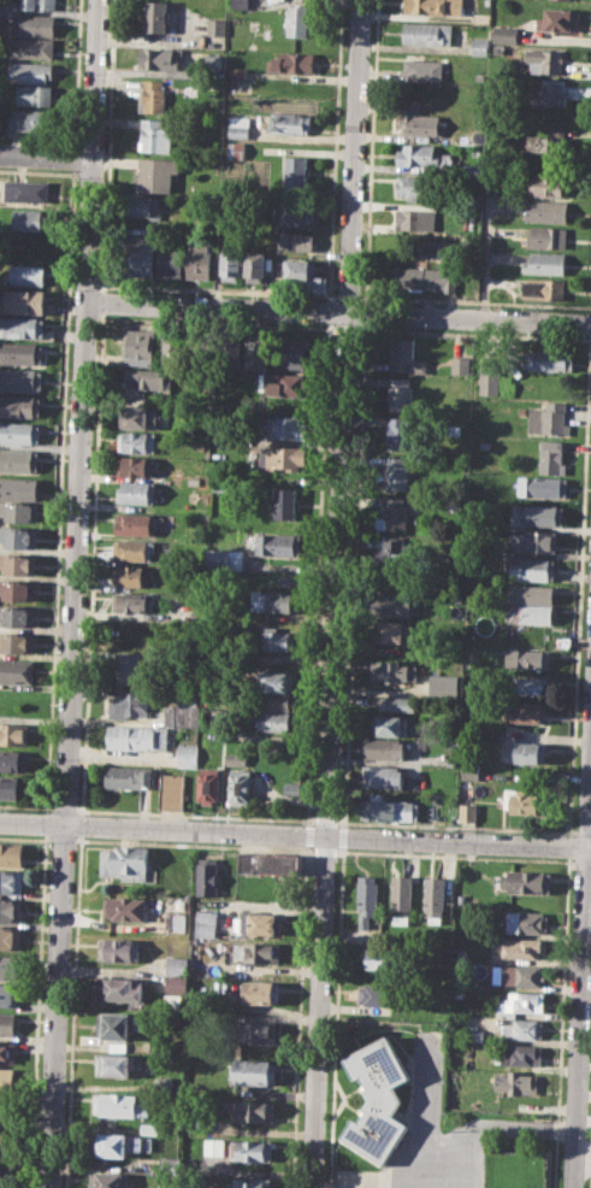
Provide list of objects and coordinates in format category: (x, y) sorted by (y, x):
building: (241, 2)
building: (39, 4)
building: (435, 6)
building: (156, 14)
building: (559, 18)
building: (300, 20)
building: (37, 23)
building: (217, 25)
building: (427, 31)
building: (504, 34)
building: (479, 46)
building: (32, 48)
building: (159, 57)
building: (544, 60)
building: (292, 61)
building: (424, 67)
building: (31, 71)
building: (549, 94)
building: (36, 95)
building: (152, 95)
building: (418, 119)
building: (32, 120)
building: (291, 122)
building: (238, 129)
building: (155, 134)
building: (550, 141)
road: (337, 149)
road: (371, 151)
building: (236, 152)
road: (46, 155)
building: (422, 155)
building: (473, 169)
building: (297, 171)
building: (156, 174)
building: (551, 183)
building: (418, 184)
building: (26, 190)
building: (143, 206)
building: (549, 210)
building: (299, 212)
building: (28, 219)
building: (416, 219)
building: (549, 236)
building: (296, 240)
road: (485, 246)
building: (144, 257)
road: (105, 259)
building: (199, 260)
building: (171, 263)
building: (546, 263)
building: (230, 265)
building: (255, 266)
building: (28, 275)
building: (303, 275)
building: (427, 277)
building: (545, 288)
road: (348, 296)
building: (22, 300)
road: (474, 301)
road: (590, 310)
road: (330, 311)
road: (338, 311)
road: (365, 312)
road: (590, 322)
building: (22, 325)
road: (344, 327)
road: (473, 333)
building: (138, 346)
building: (175, 349)
building: (202, 351)
building: (294, 351)
building: (20, 352)
building: (229, 352)
building: (255, 353)
building: (403, 355)
building: (549, 359)
building: (460, 364)
building: (489, 374)
building: (20, 378)
building: (142, 380)
building: (283, 382)
building: (400, 394)
building: (20, 405)
building: (137, 417)
road: (342, 417)
building: (548, 418)
building: (289, 425)
building: (19, 433)
building: (398, 433)
building: (136, 442)
road: (95, 448)
road: (61, 454)
building: (550, 455)
building: (282, 457)
building: (19, 460)
building: (135, 466)
building: (395, 472)
building: (543, 486)
building: (18, 488)
building: (135, 492)
building: (286, 502)
building: (20, 511)
building: (392, 513)
building: (540, 513)
building: (135, 524)
building: (18, 535)
building: (539, 540)
building: (279, 545)
building: (132, 549)
building: (392, 557)
building: (225, 558)
building: (18, 564)
building: (533, 566)
road: (318, 572)
building: (128, 576)
road: (353, 576)
building: (288, 578)
road: (579, 583)
building: (17, 589)
building: (532, 593)
road: (72, 594)
building: (278, 599)
building: (129, 601)
building: (392, 604)
building: (531, 613)
building: (17, 616)
building: (126, 628)
building: (392, 630)
building: (276, 640)
building: (17, 642)
building: (526, 658)
building: (129, 667)
building: (16, 670)
building: (395, 670)
building: (277, 680)
building: (527, 686)
building: (443, 687)
building: (274, 700)
building: (130, 704)
building: (397, 704)
building: (181, 711)
building: (528, 711)
building: (277, 721)
building: (391, 724)
building: (13, 733)
building: (137, 736)
building: (383, 748)
building: (527, 752)
building: (187, 755)
building: (236, 758)
building: (12, 760)
building: (471, 771)
building: (129, 776)
building: (382, 776)
building: (208, 783)
building: (240, 786)
building: (12, 787)
building: (291, 787)
building: (172, 790)
building: (522, 800)
road: (23, 806)
road: (49, 807)
road: (63, 807)
building: (390, 808)
building: (432, 808)
building: (467, 811)
road: (195, 814)
road: (325, 821)
road: (46, 822)
road: (79, 824)
road: (456, 825)
road: (583, 830)
road: (295, 833)
road: (343, 836)
road: (568, 845)
road: (312, 849)
building: (12, 854)
building: (125, 861)
building: (268, 863)
building: (207, 876)
building: (528, 880)
building: (11, 881)
building: (401, 895)
building: (433, 895)
building: (366, 900)
building: (125, 907)
building: (10, 908)
building: (176, 922)
building: (526, 922)
building: (206, 923)
building: (256, 924)
building: (10, 937)
building: (520, 947)
building: (118, 949)
building: (256, 952)
building: (460, 954)
building: (380, 958)
road: (580, 958)
building: (177, 963)
building: (8, 966)
building: (520, 975)
building: (175, 986)
building: (119, 988)
building: (260, 992)
building: (8, 994)
building: (379, 994)
building: (519, 1002)
road: (37, 1011)
road: (71, 1011)
road: (317, 1011)
road: (336, 1017)
road: (561, 1022)
building: (7, 1023)
building: (118, 1024)
building: (522, 1028)
building: (259, 1030)
building: (7, 1051)
building: (520, 1054)
building: (114, 1064)
building: (255, 1070)
building: (7, 1078)
building: (515, 1082)
building: (376, 1101)
building: (117, 1104)
building: (5, 1107)
building: (254, 1108)
building: (4, 1137)
road: (457, 1139)
building: (116, 1143)
building: (213, 1146)
building: (250, 1149)
building: (170, 1164)
park: (515, 1169)
building: (2, 1170)
parking lot: (361, 1177)
building: (106, 1180)
building: (250, 1182)
building: (1, 1187)

